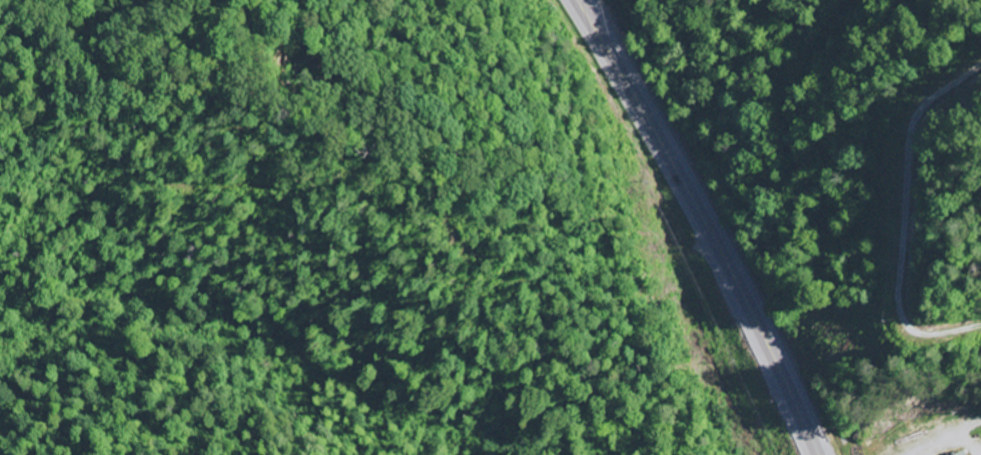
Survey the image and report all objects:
road: (703, 223)
road: (950, 446)
building: (961, 454)

